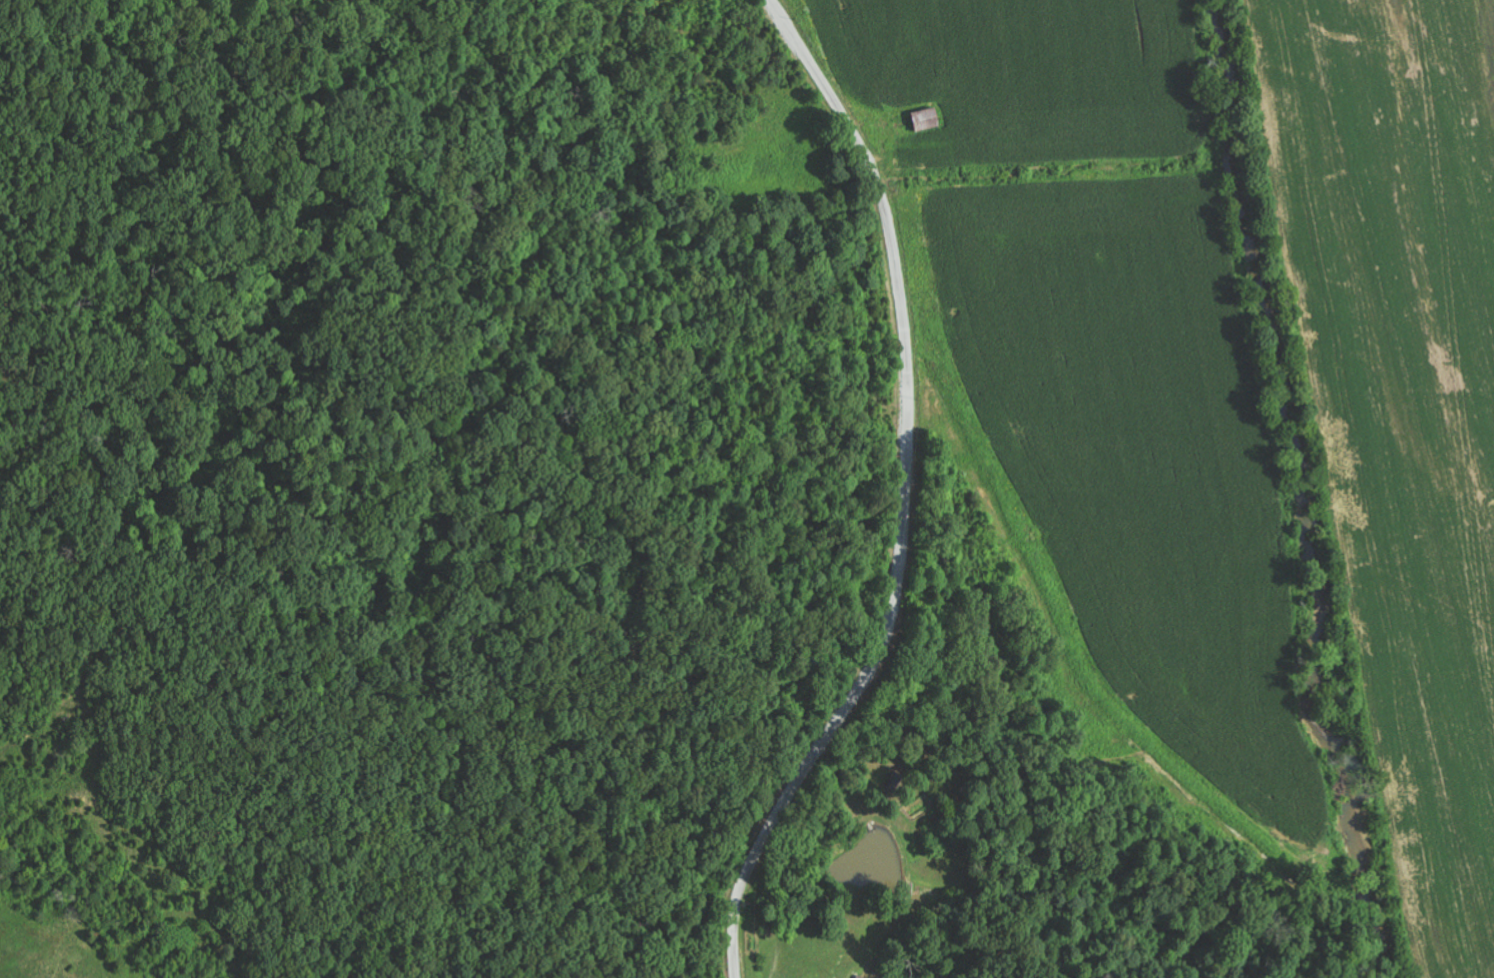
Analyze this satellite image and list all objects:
building: (928, 119)
road: (905, 494)

